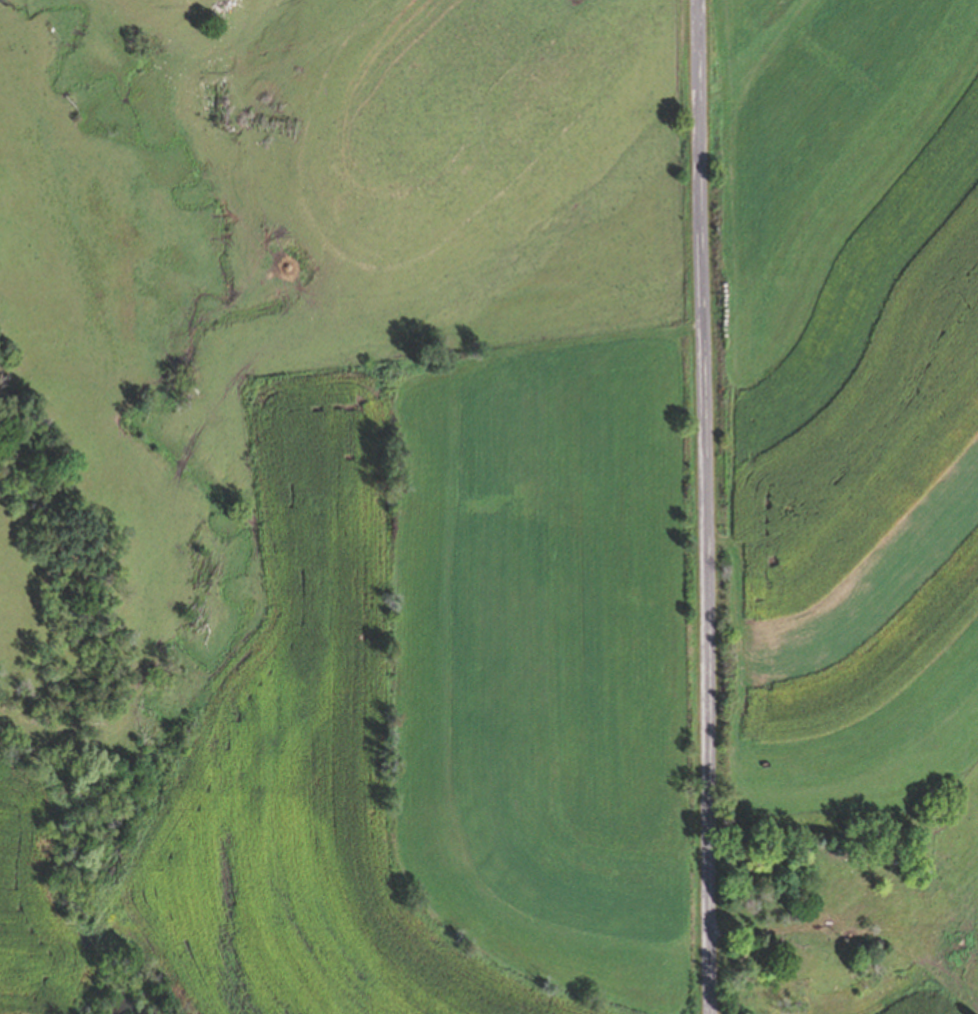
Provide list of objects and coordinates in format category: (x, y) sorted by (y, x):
road: (703, 507)
building: (897, 902)
building: (923, 927)
building: (857, 931)
building: (816, 952)

